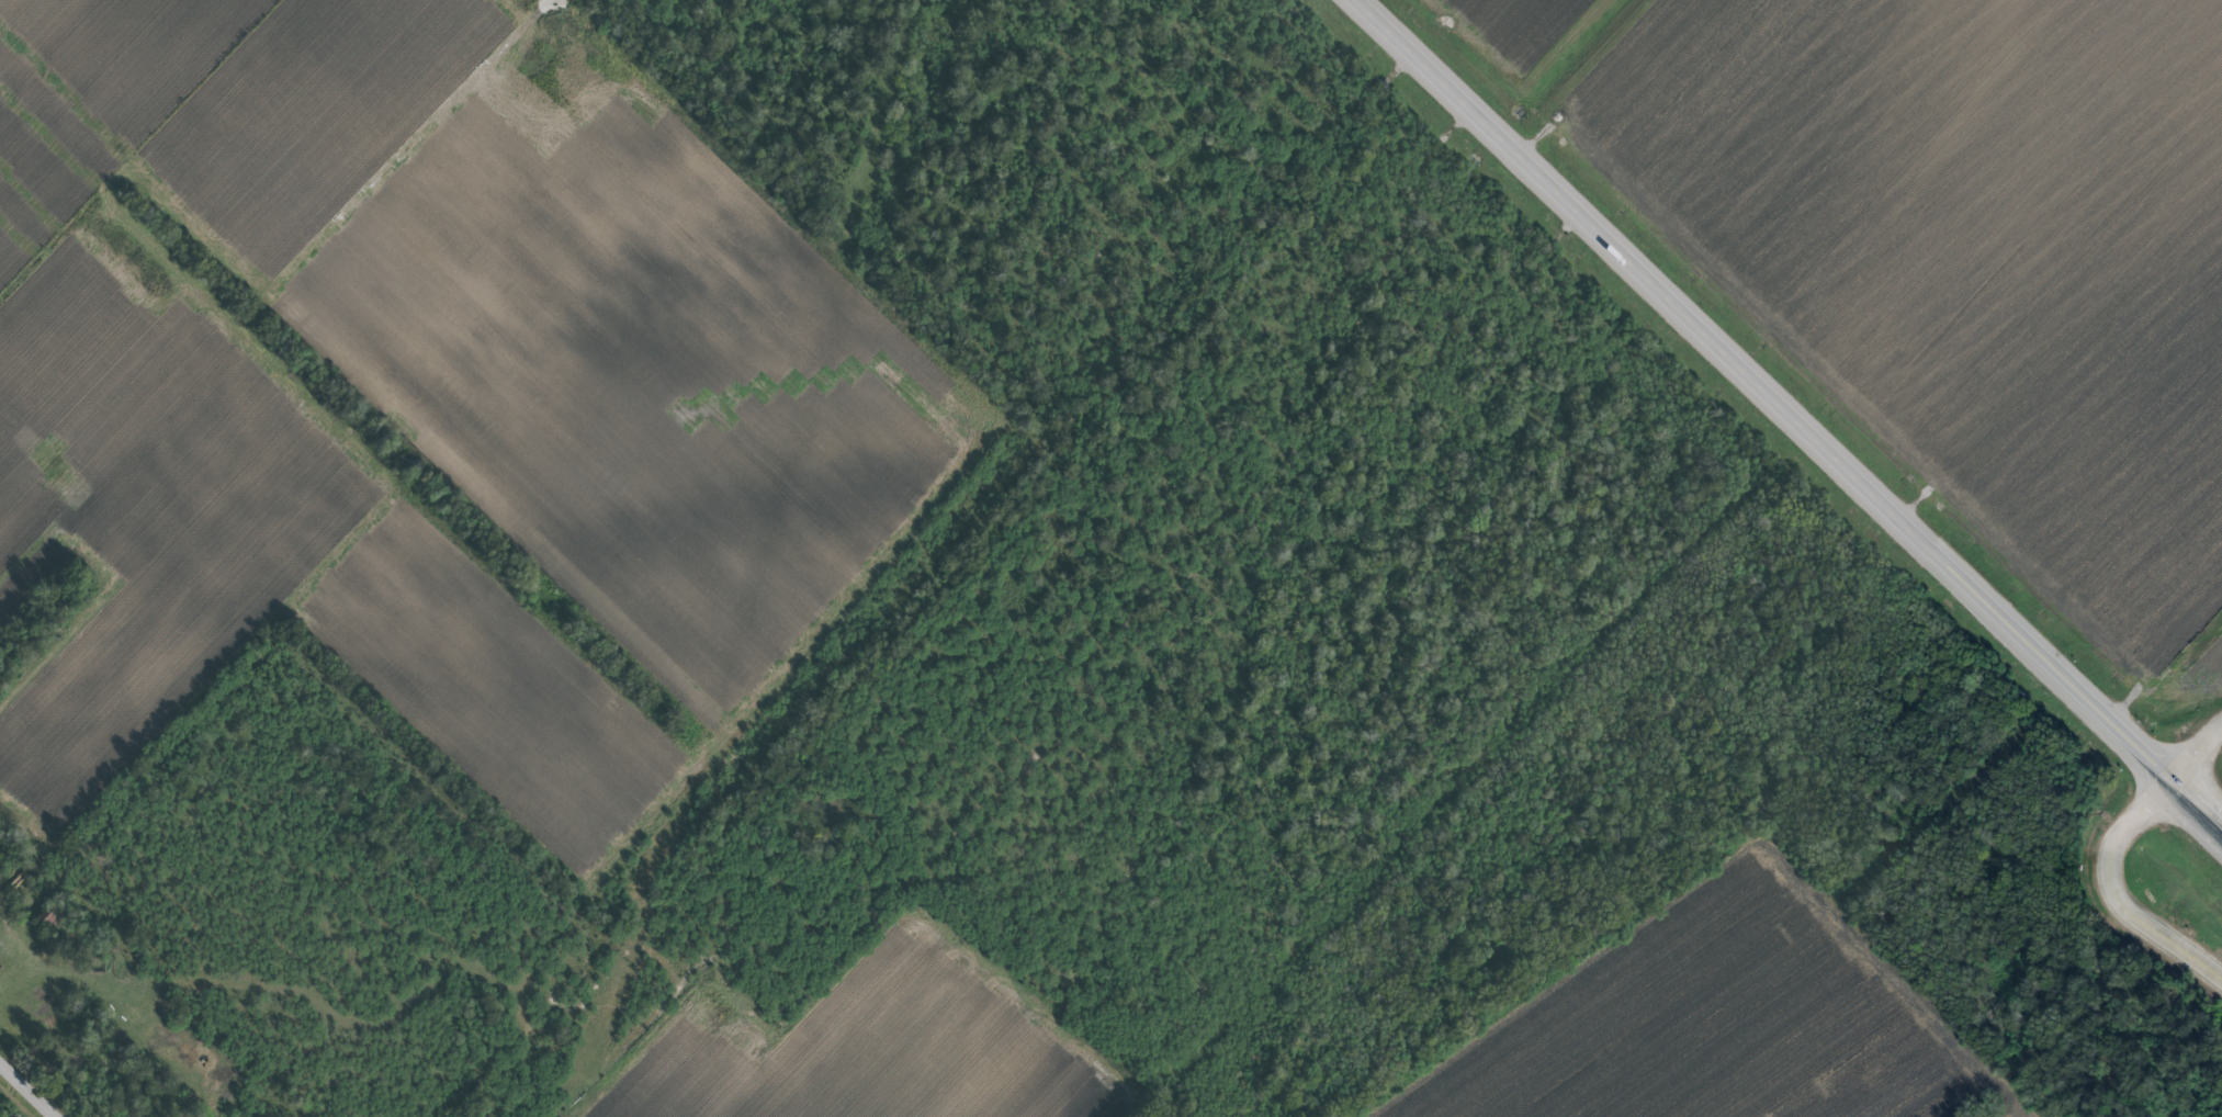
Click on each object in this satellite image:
road: (1789, 419)
road: (2109, 859)
road: (30, 1087)

